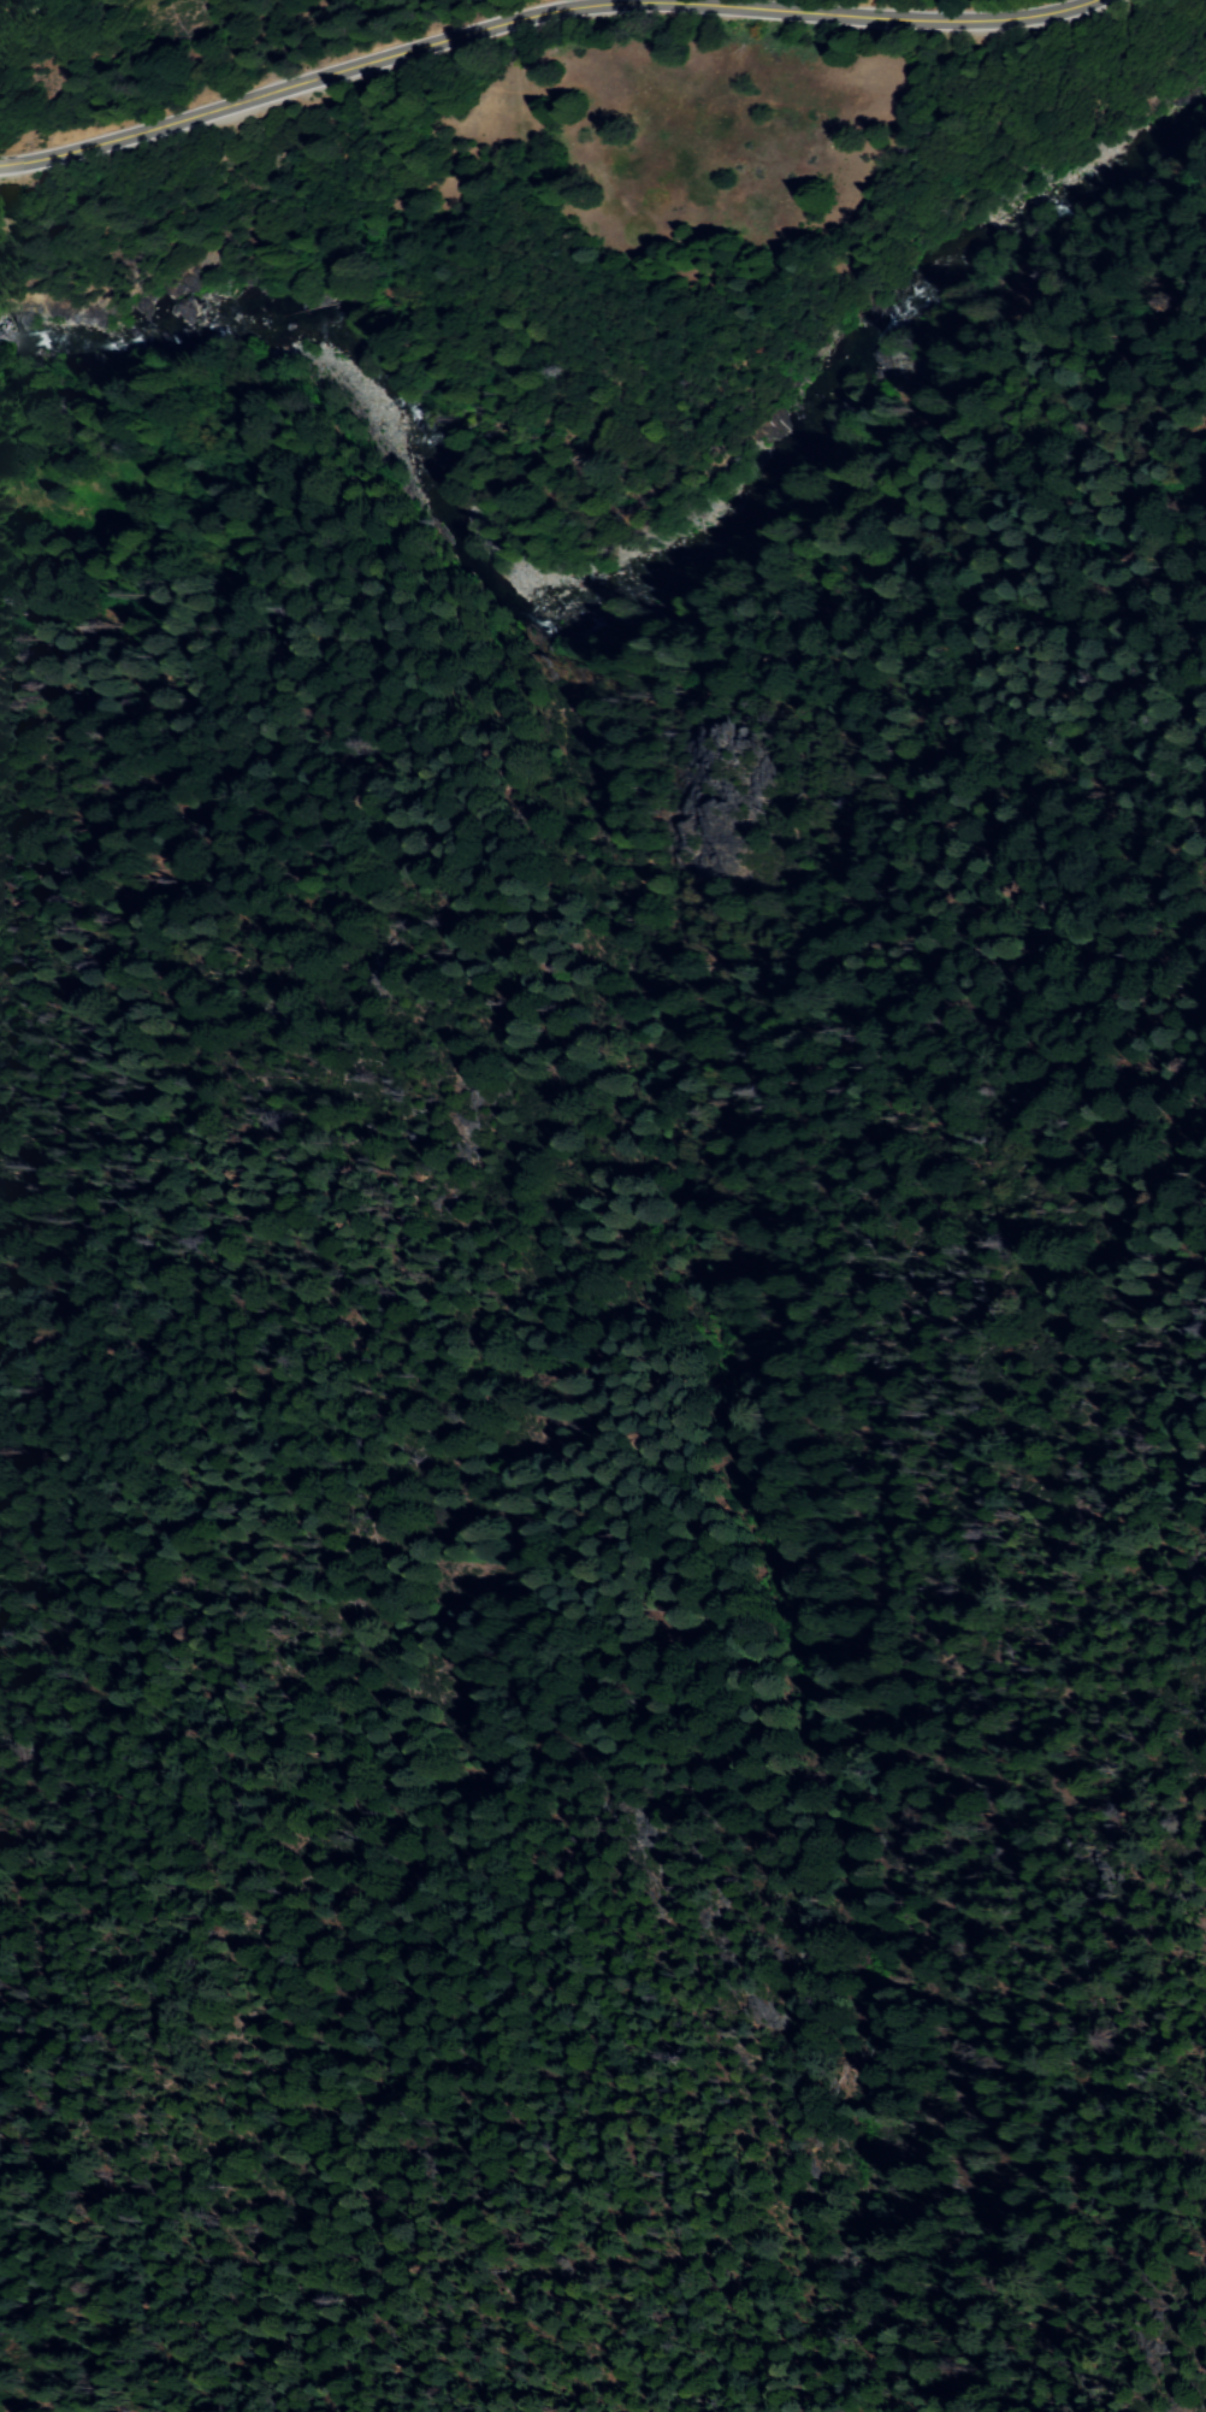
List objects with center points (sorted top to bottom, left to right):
road: (531, 17)
river: (642, 549)

